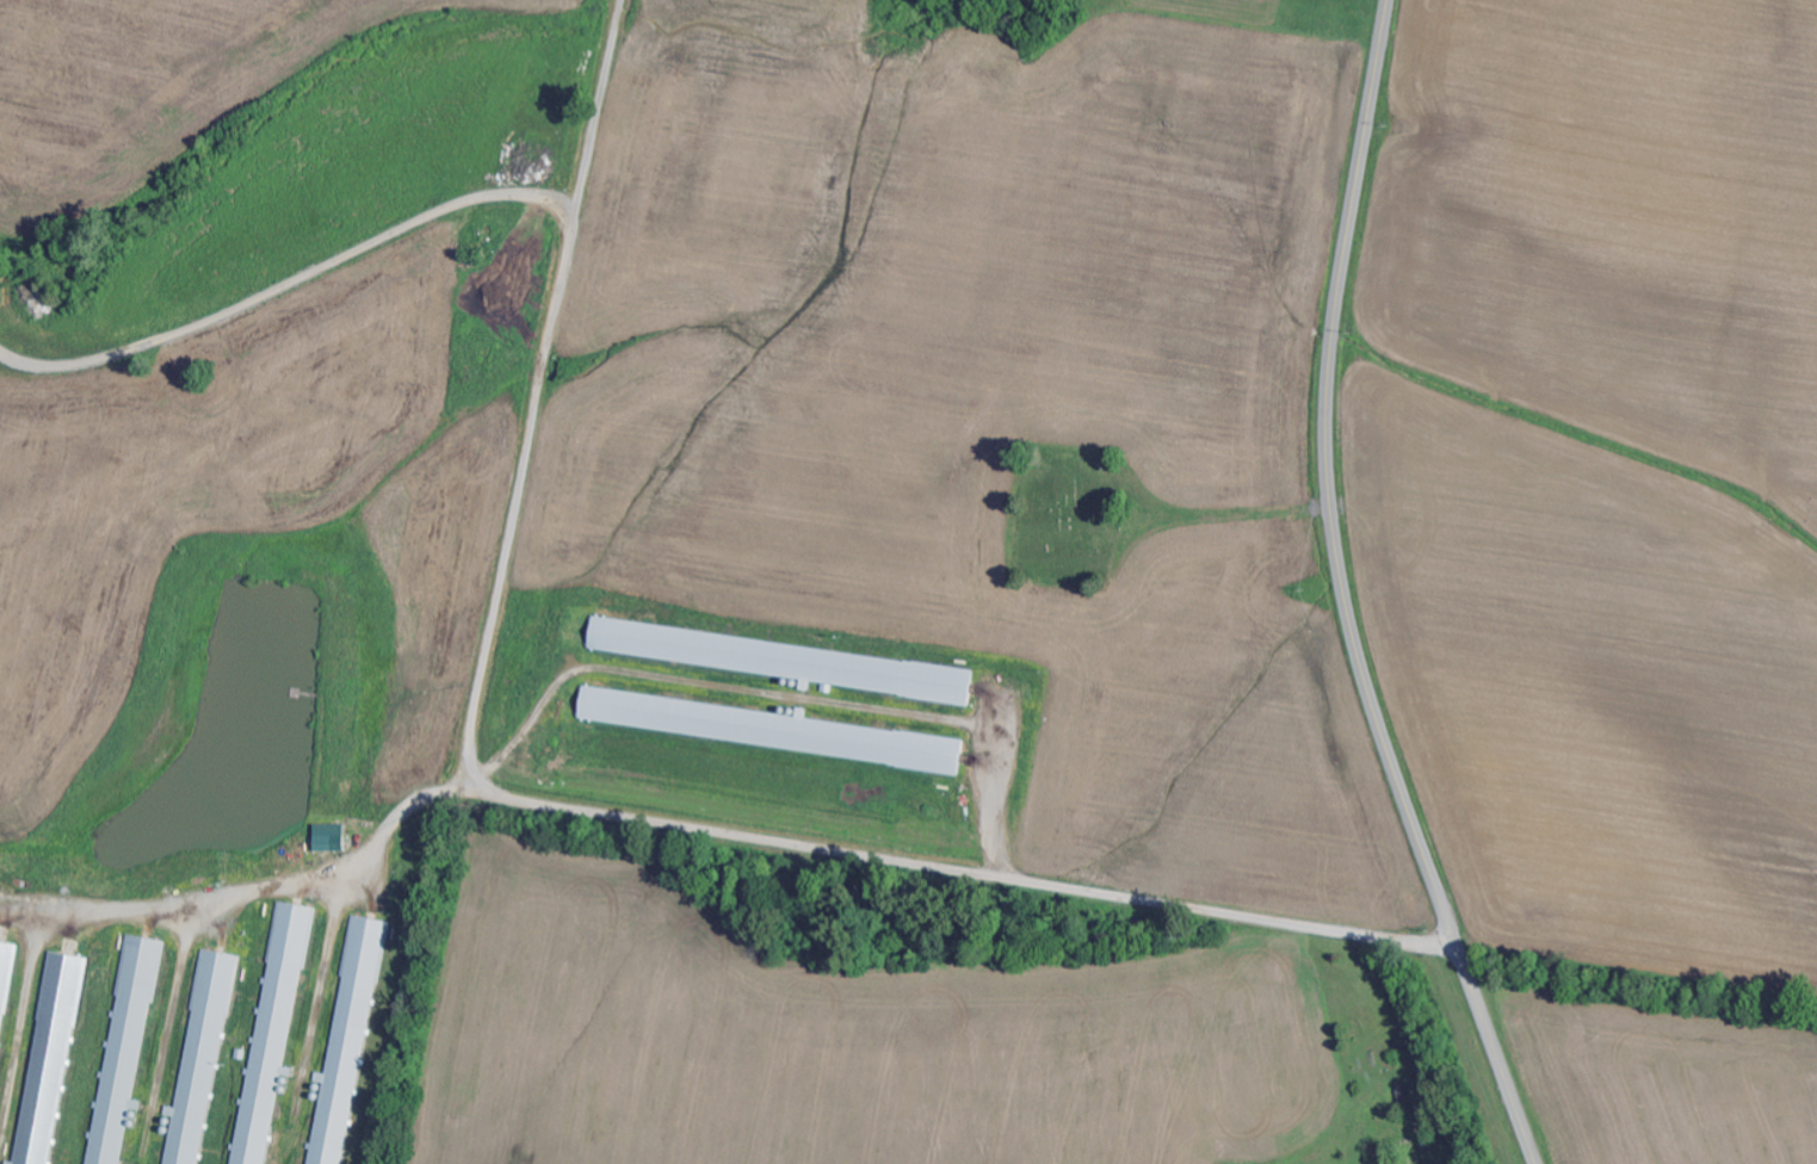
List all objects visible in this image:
road: (622, 2)
road: (1230, 513)
park: (1073, 516)
road: (1342, 594)
building: (791, 662)
building: (770, 729)
road: (573, 809)
building: (333, 838)
building: (276, 1029)
building: (348, 1046)
building: (126, 1048)
building: (51, 1059)
building: (200, 1061)

